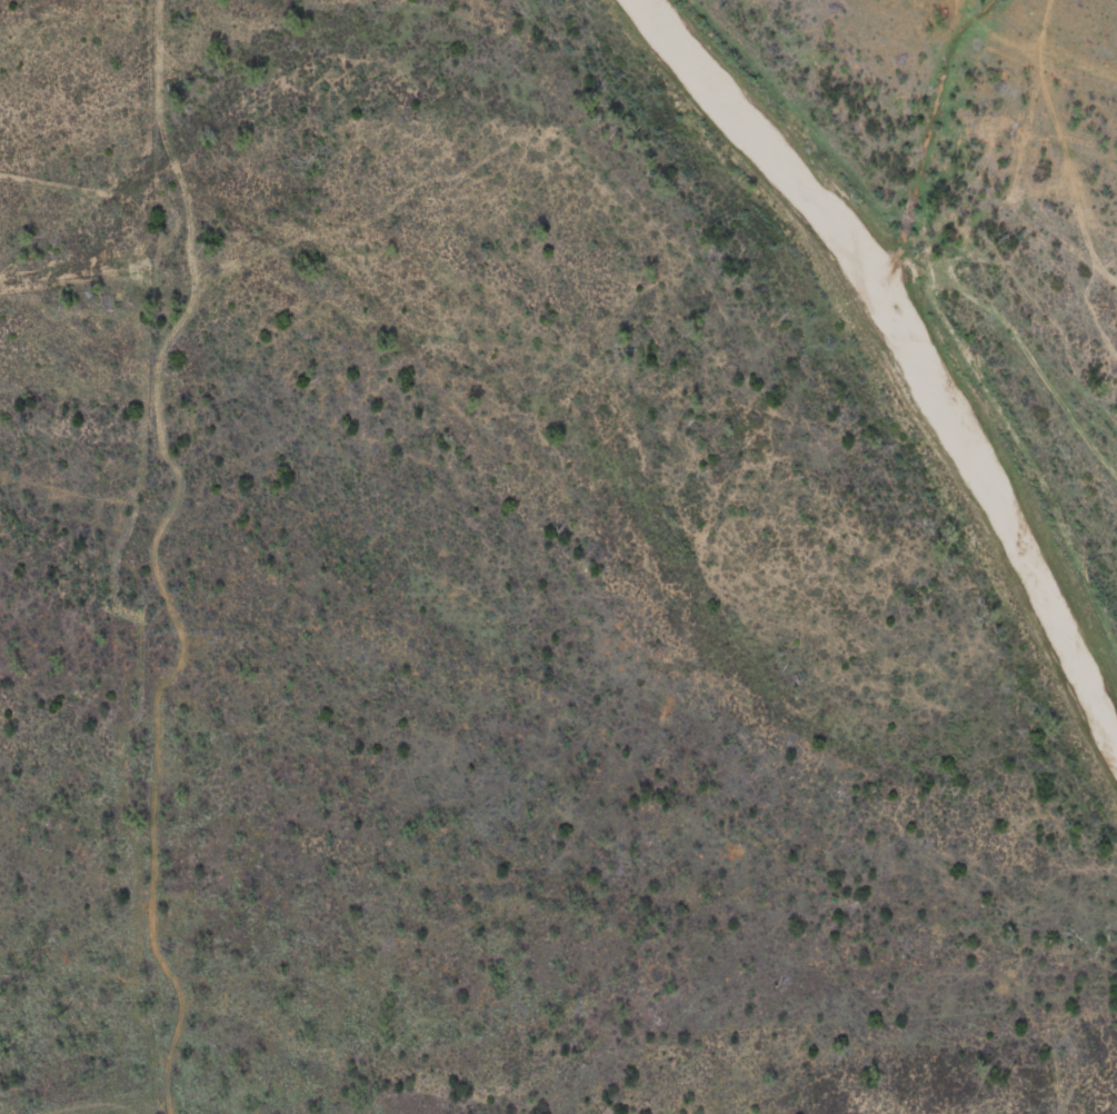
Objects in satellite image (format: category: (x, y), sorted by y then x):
road: (950, 51)
river: (906, 357)
road: (931, 569)

